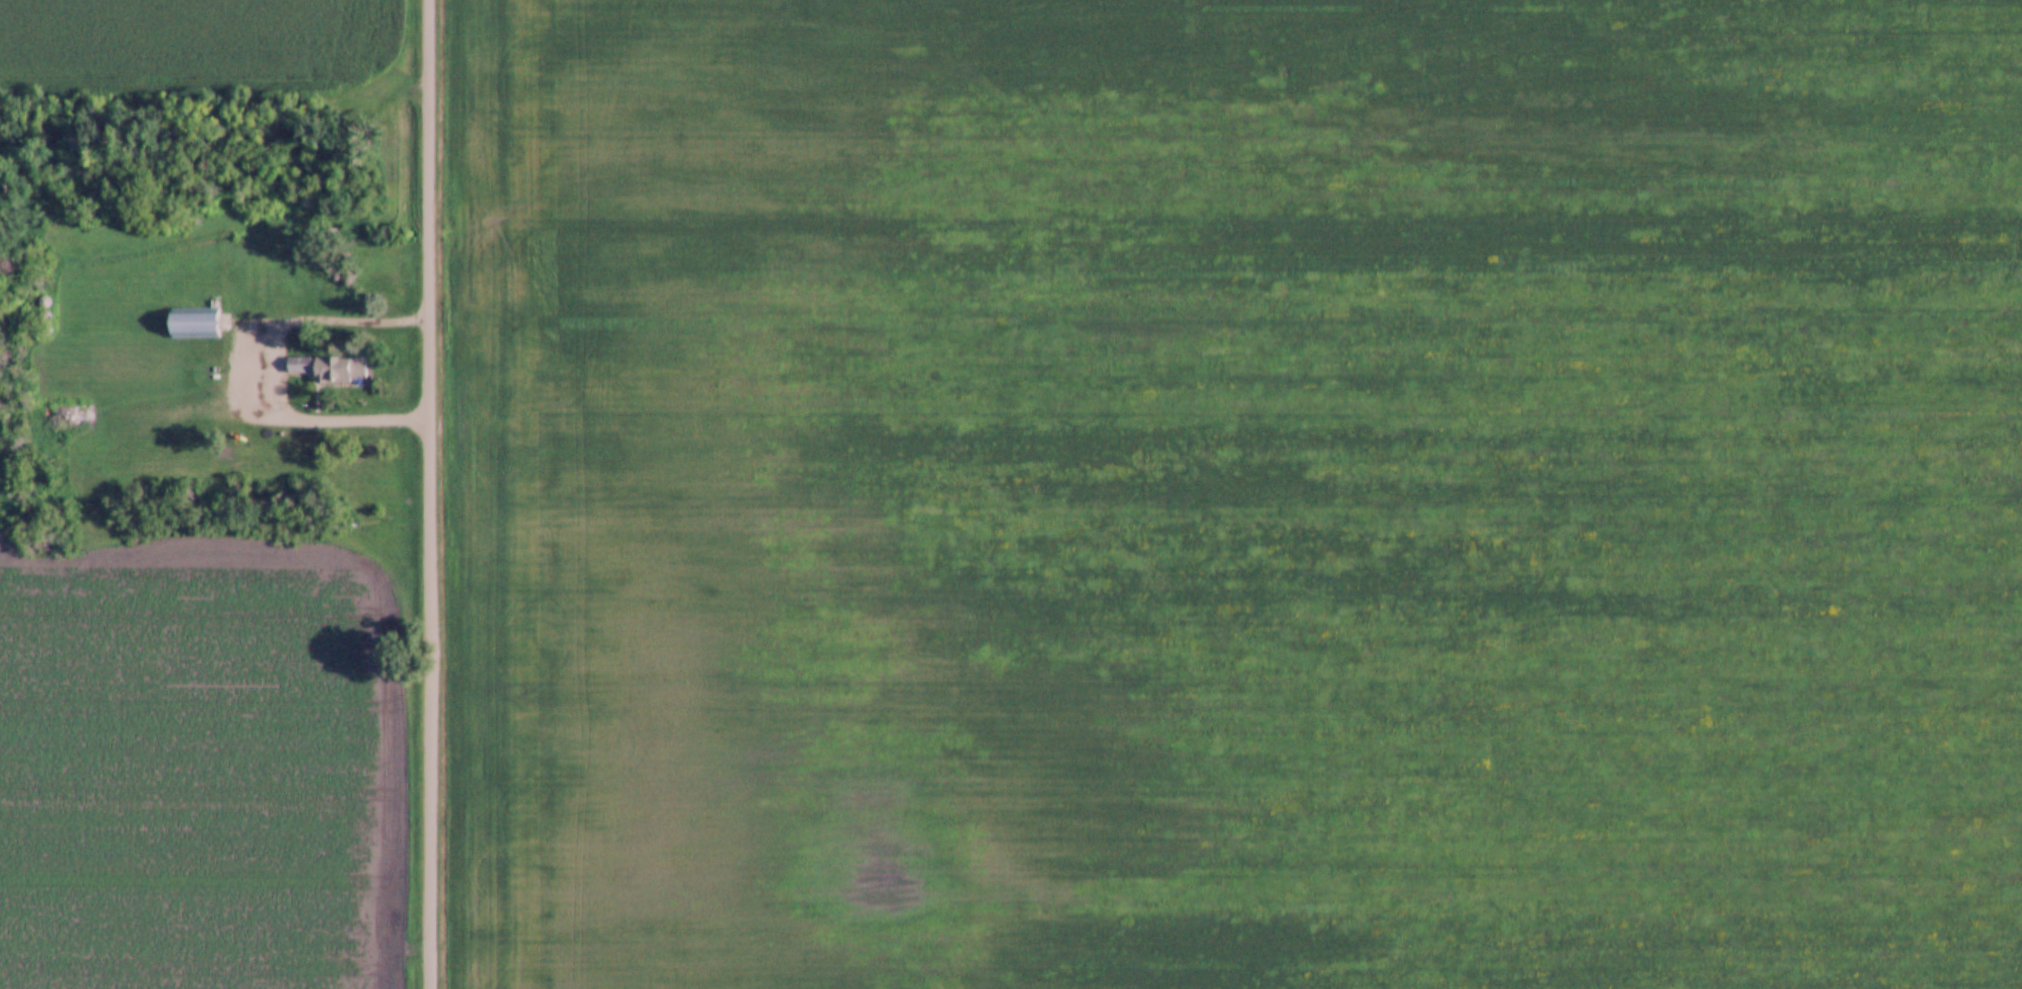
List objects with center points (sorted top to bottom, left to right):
building: (198, 323)
road: (278, 366)
building: (331, 366)
building: (67, 416)
road: (206, 417)
road: (431, 494)

